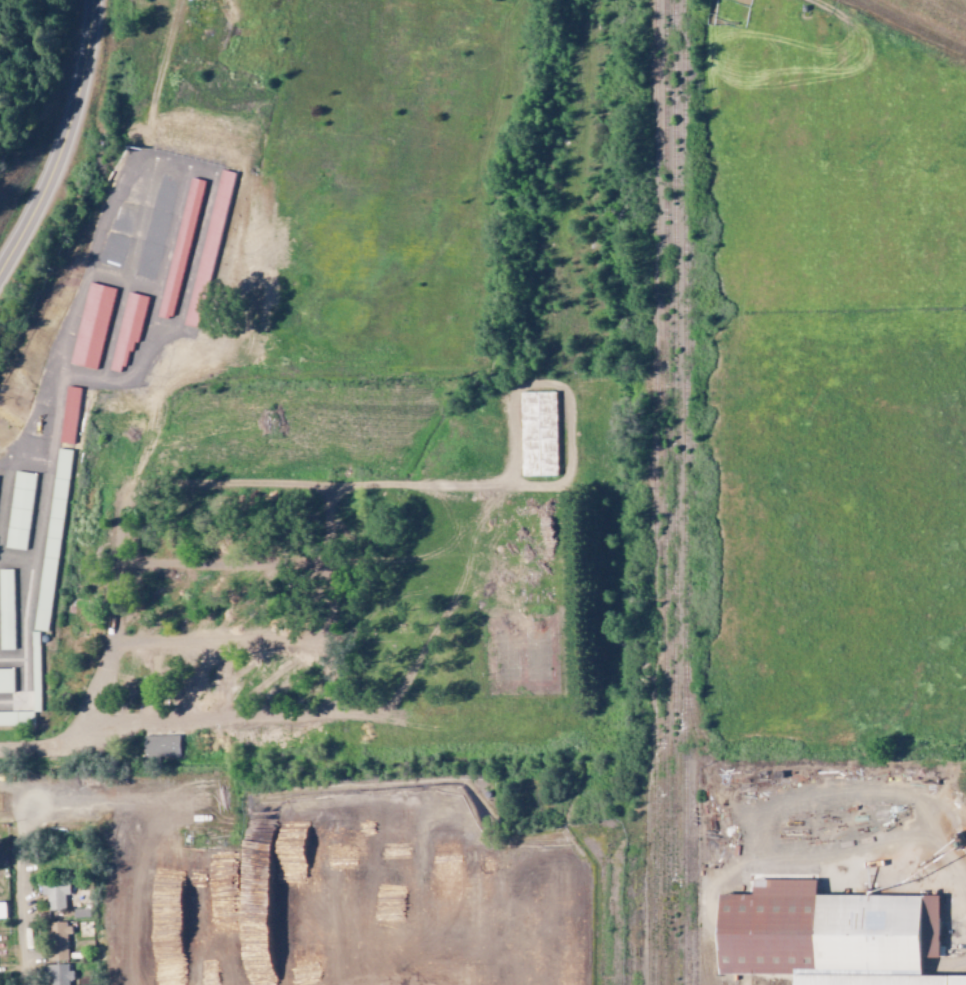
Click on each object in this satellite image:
road: (67, 143)
building: (545, 435)
road: (467, 486)
railway: (653, 492)
railway: (662, 492)
railway: (671, 492)
railway: (682, 492)
building: (20, 510)
building: (52, 540)
road: (222, 566)
building: (6, 610)
road: (218, 642)
park: (527, 655)
road: (112, 659)
building: (35, 667)
building: (6, 680)
road: (314, 712)
building: (16, 718)
building: (160, 746)
railway: (642, 881)
building: (56, 896)
building: (2, 910)
building: (81, 913)
building: (821, 931)
road: (26, 938)
building: (57, 940)
building: (59, 974)
building: (876, 980)

